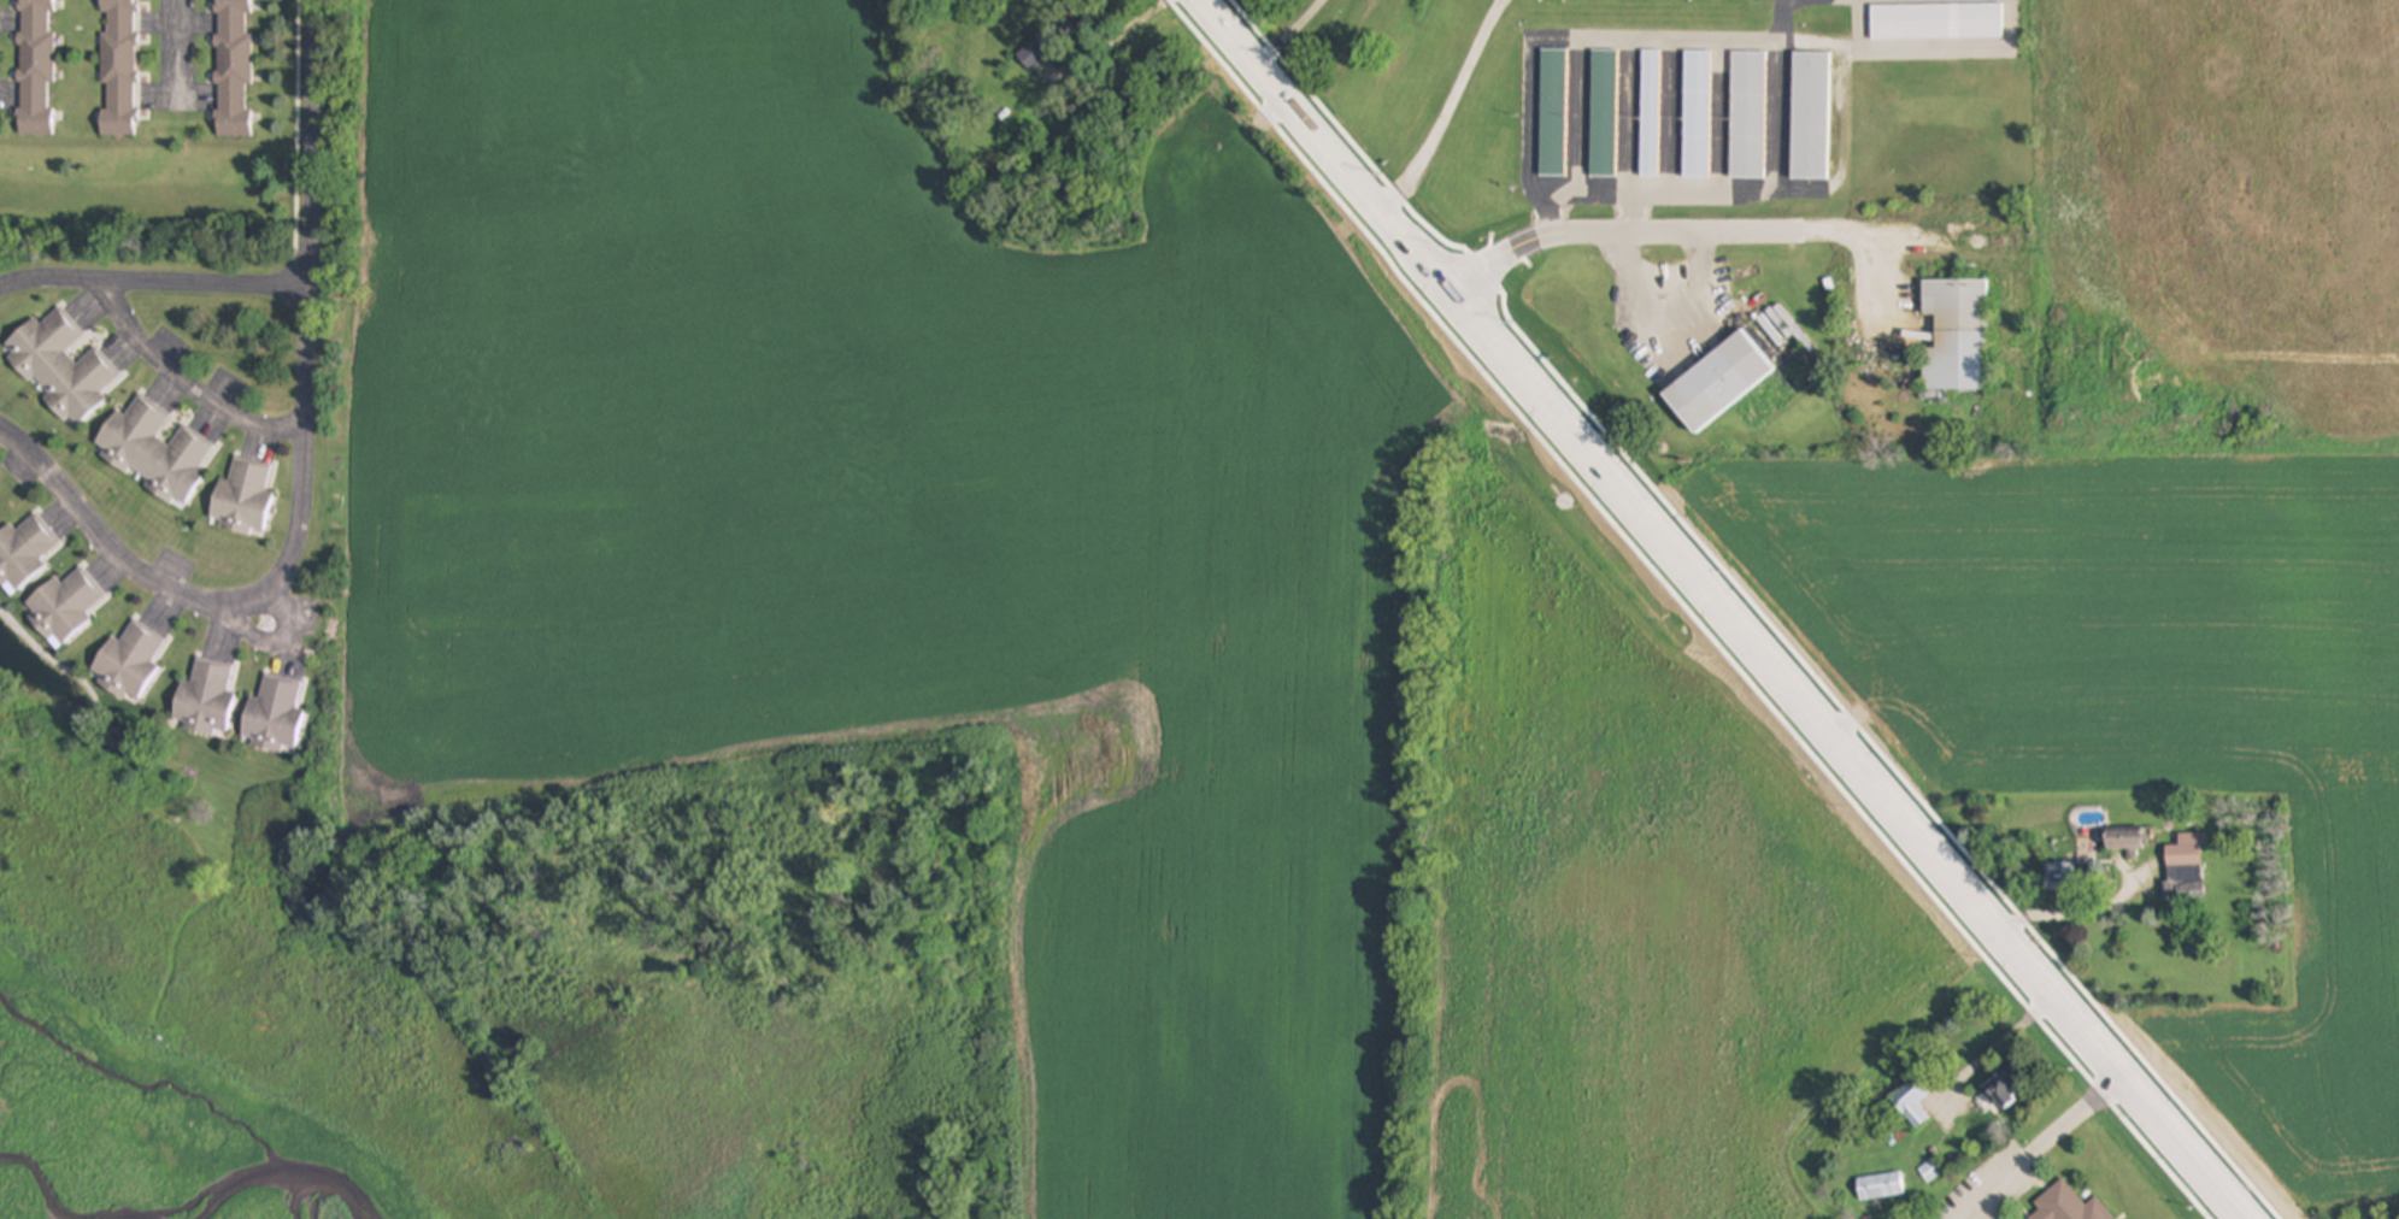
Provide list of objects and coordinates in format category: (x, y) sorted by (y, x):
building: (978, 1)
road: (1284, 35)
road: (1107, 41)
road: (181, 51)
building: (1036, 52)
building: (35, 67)
building: (118, 67)
building: (231, 67)
road: (1446, 111)
building: (1552, 113)
building: (1604, 114)
building: (1651, 116)
building: (1697, 116)
building: (1747, 116)
building: (1809, 116)
road: (1658, 236)
road: (154, 282)
building: (1957, 335)
building: (61, 367)
building: (1718, 383)
road: (186, 384)
building: (155, 450)
road: (308, 476)
building: (242, 499)
building: (23, 552)
building: (64, 606)
crop: (1086, 606)
road: (1718, 609)
building: (128, 662)
building: (205, 699)
building: (272, 715)
crop: (2128, 719)
building: (2125, 841)
building: (2186, 868)
building: (2060, 877)
road: (2072, 915)
road: (1995, 1049)
building: (2000, 1094)
building: (1916, 1108)
road: (2036, 1146)
building: (1931, 1171)
building: (1881, 1188)
building: (2070, 1203)

